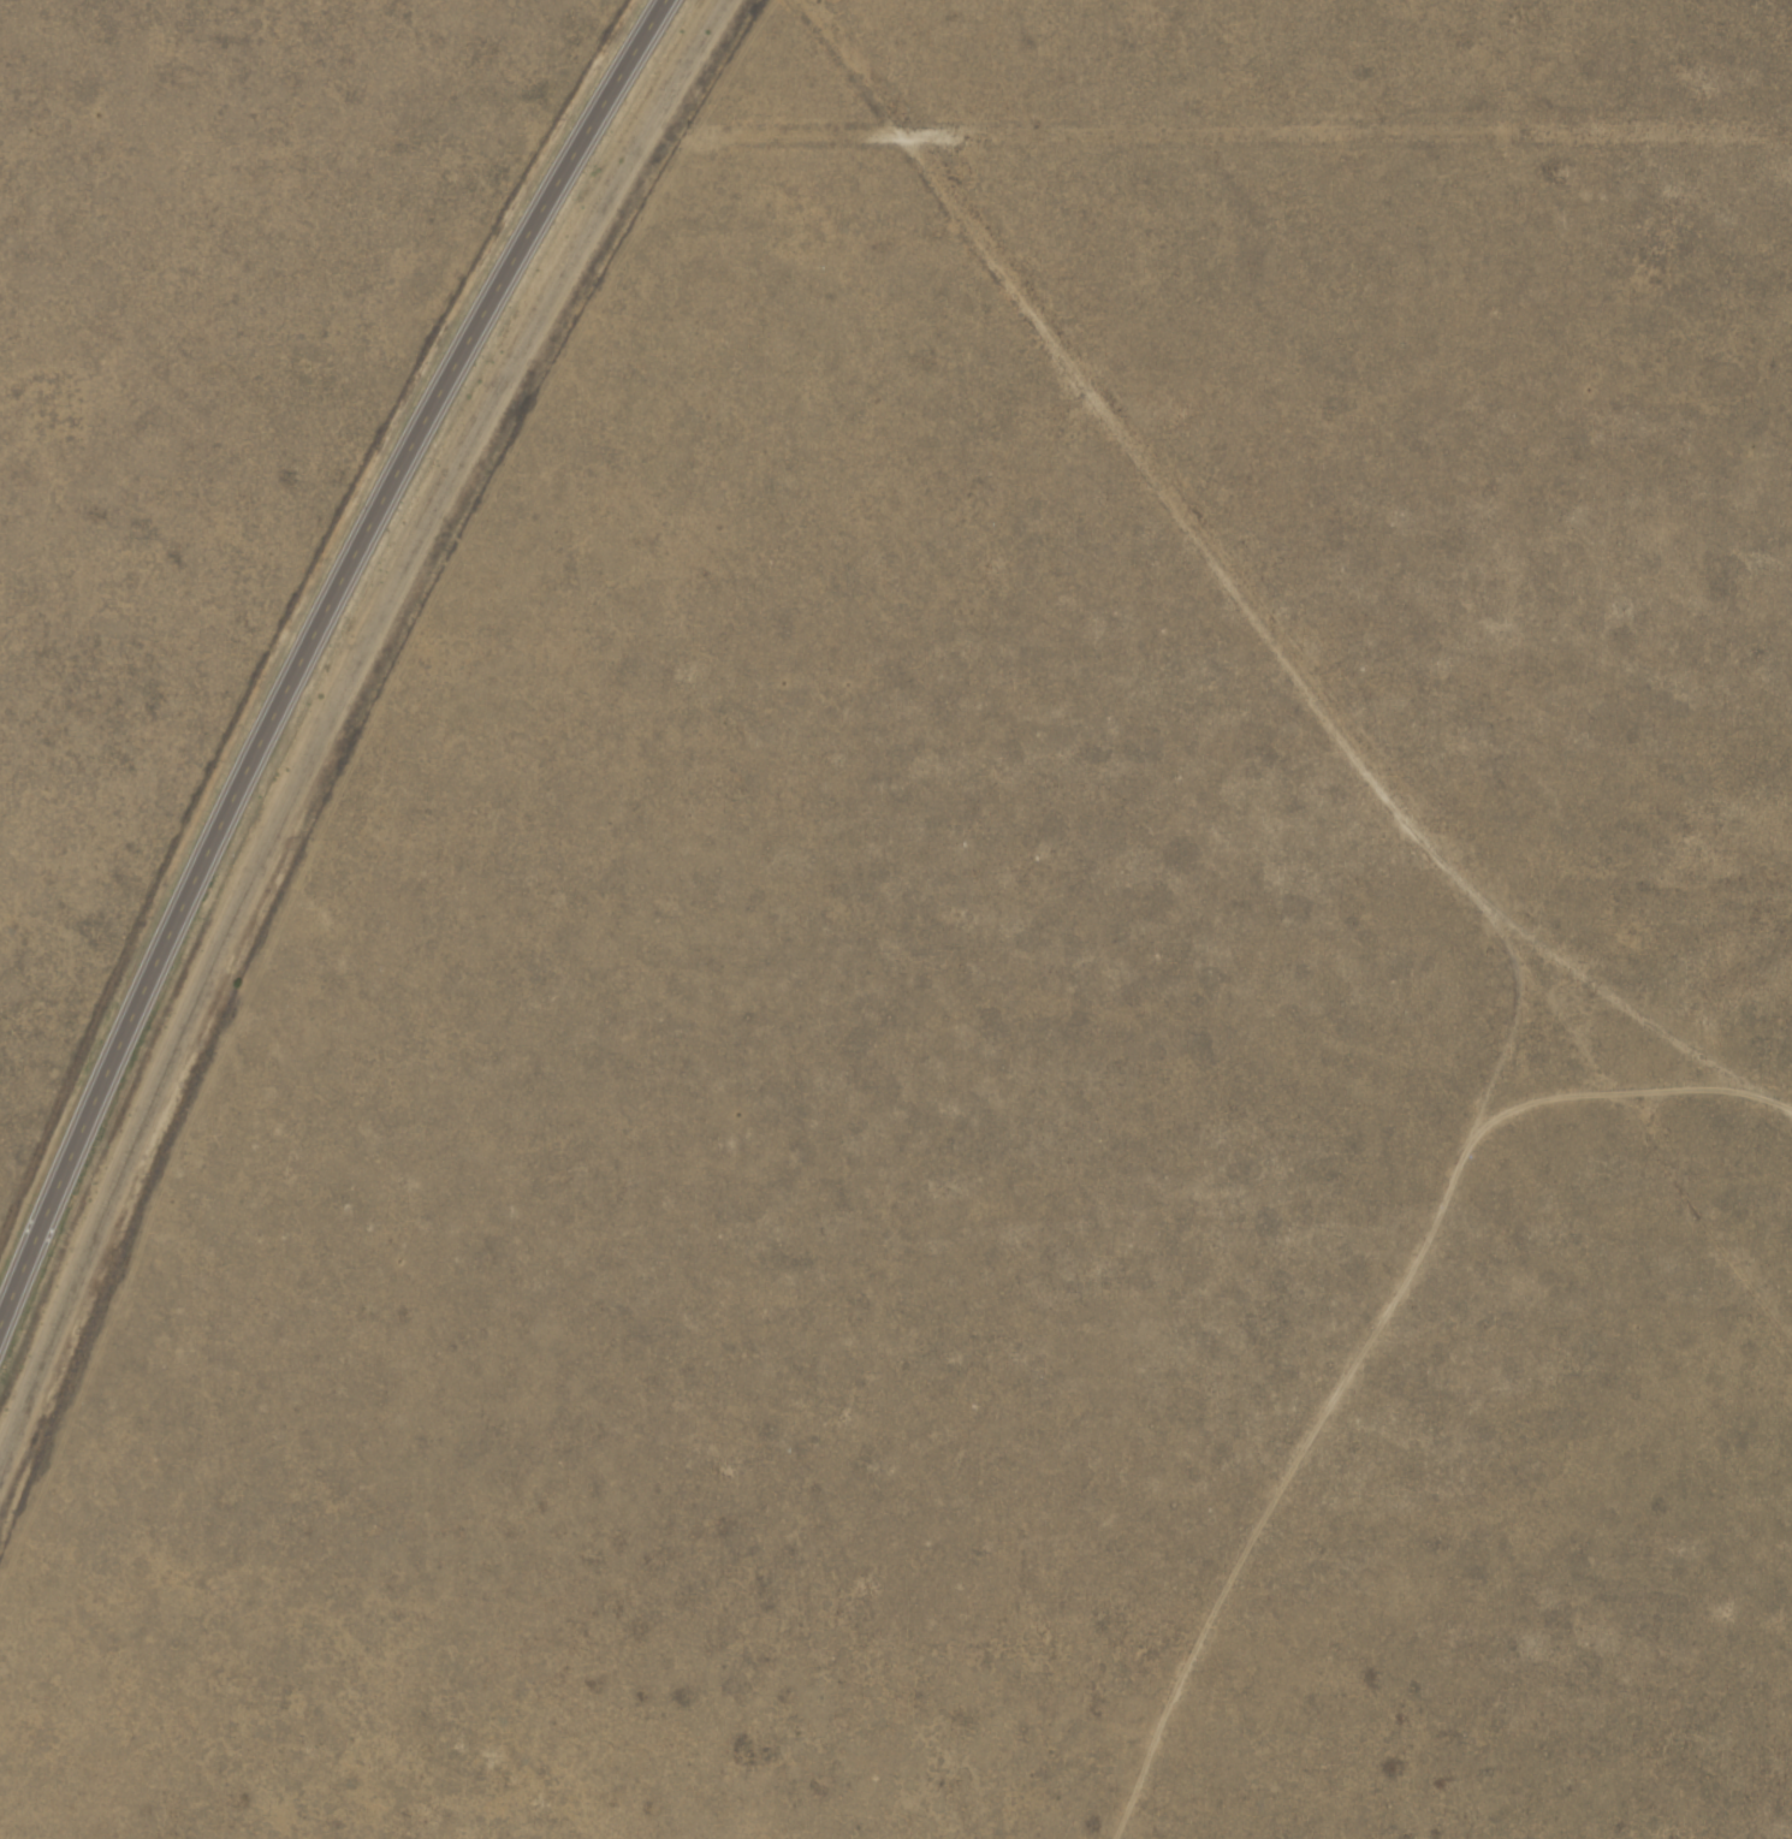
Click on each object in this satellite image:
road: (297, 630)

